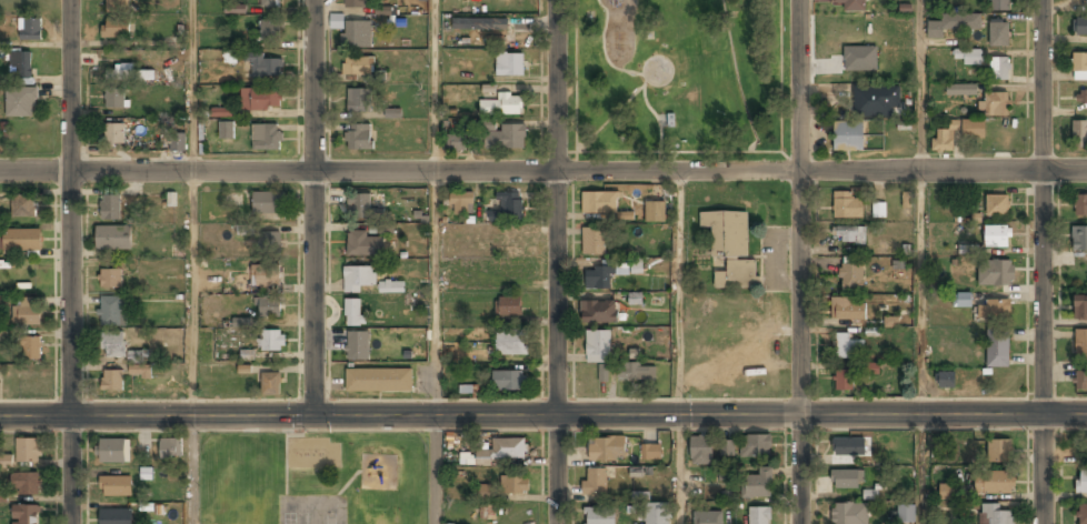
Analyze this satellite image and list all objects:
building: (269, 4)
building: (357, 4)
building: (117, 6)
building: (852, 6)
building: (998, 6)
building: (235, 8)
building: (382, 10)
building: (337, 21)
building: (480, 26)
building: (1079, 28)
building: (116, 29)
building: (936, 29)
building: (31, 30)
building: (270, 30)
building: (999, 33)
building: (357, 36)
building: (495, 40)
building: (968, 56)
building: (859, 58)
building: (905, 61)
building: (21, 65)
building: (509, 65)
building: (265, 67)
building: (357, 67)
building: (999, 68)
building: (1079, 68)
building: (123, 72)
park: (677, 78)
road: (192, 84)
road: (437, 84)
road: (920, 84)
building: (960, 92)
building: (260, 99)
building: (114, 100)
building: (1080, 100)
building: (357, 101)
building: (875, 102)
building: (20, 103)
building: (994, 104)
building: (501, 105)
building: (222, 112)
building: (392, 113)
building: (226, 131)
building: (114, 134)
building: (1079, 134)
building: (973, 135)
building: (266, 138)
building: (359, 138)
building: (847, 138)
building: (506, 139)
building: (178, 143)
building: (455, 143)
road: (766, 148)
road: (711, 150)
road: (636, 151)
road: (277, 170)
road: (677, 170)
road: (943, 170)
building: (268, 203)
building: (599, 203)
building: (461, 204)
building: (23, 206)
road: (313, 206)
building: (359, 206)
building: (846, 206)
building: (996, 206)
building: (1080, 206)
building: (512, 208)
building: (110, 209)
building: (878, 210)
building: (655, 213)
building: (385, 229)
building: (850, 235)
building: (996, 238)
building: (113, 239)
building: (1079, 240)
building: (20, 241)
building: (270, 242)
building: (592, 242)
building: (512, 244)
building: (365, 245)
building: (730, 249)
road: (71, 261)
road: (555, 262)
road: (798, 262)
road: (1043, 262)
building: (511, 272)
building: (995, 274)
building: (604, 275)
building: (266, 276)
building: (111, 279)
building: (358, 279)
building: (851, 279)
building: (391, 288)
road: (436, 292)
road: (193, 293)
building: (961, 300)
building: (508, 308)
building: (269, 309)
building: (1080, 309)
building: (994, 310)
building: (110, 312)
building: (847, 312)
building: (598, 313)
building: (353, 314)
building: (26, 315)
building: (241, 322)
building: (272, 342)
building: (511, 343)
building: (113, 345)
building: (1080, 345)
building: (358, 346)
road: (679, 346)
building: (842, 346)
road: (919, 346)
building: (30, 349)
building: (997, 351)
building: (598, 352)
building: (138, 364)
building: (870, 369)
building: (637, 373)
building: (378, 381)
building: (507, 381)
building: (842, 381)
building: (946, 381)
building: (1080, 381)
building: (112, 382)
building: (270, 384)
road: (543, 415)
building: (726, 447)
building: (756, 447)
building: (848, 447)
building: (607, 450)
building: (170, 451)
building: (501, 451)
building: (28, 452)
building: (113, 452)
building: (699, 452)
building: (998, 452)
building: (651, 453)
building: (6, 461)
road: (192, 470)
road: (433, 470)
building: (901, 476)
building: (845, 480)
building: (596, 483)
building: (1081, 483)
building: (993, 484)
building: (24, 485)
building: (513, 485)
building: (757, 485)
building: (114, 487)
building: (947, 491)
building: (481, 492)
building: (870, 494)
building: (488, 512)
building: (656, 514)
building: (849, 514)
building: (26, 515)
building: (758, 515)
building: (906, 515)
building: (994, 515)
building: (1081, 515)
building: (599, 516)
building: (116, 517)
building: (707, 518)

